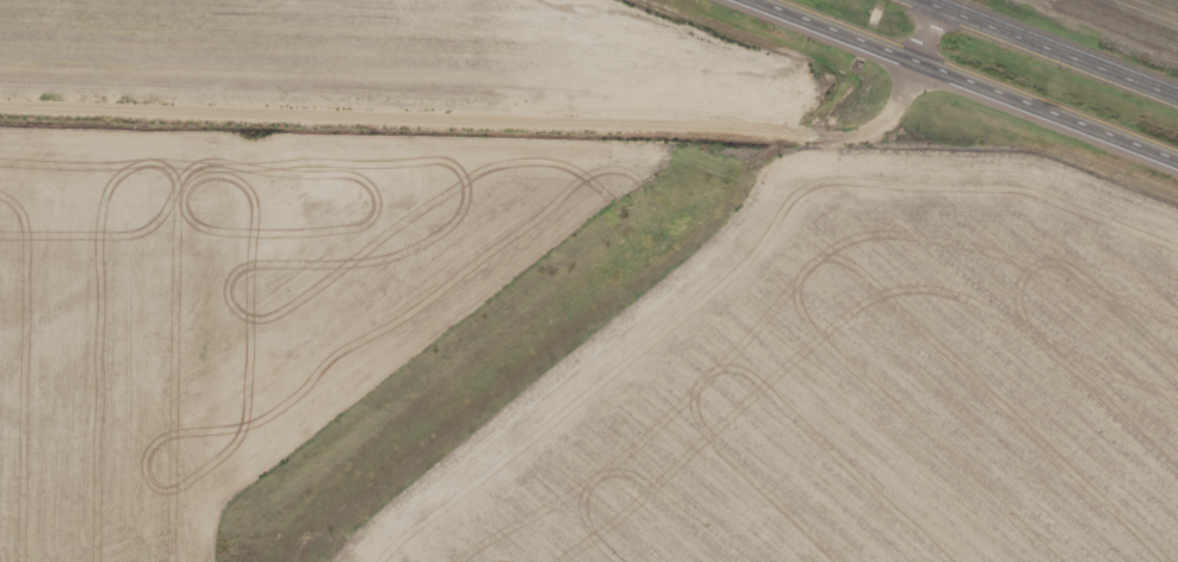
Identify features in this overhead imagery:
road: (1048, 49)
road: (951, 85)
road: (506, 117)

